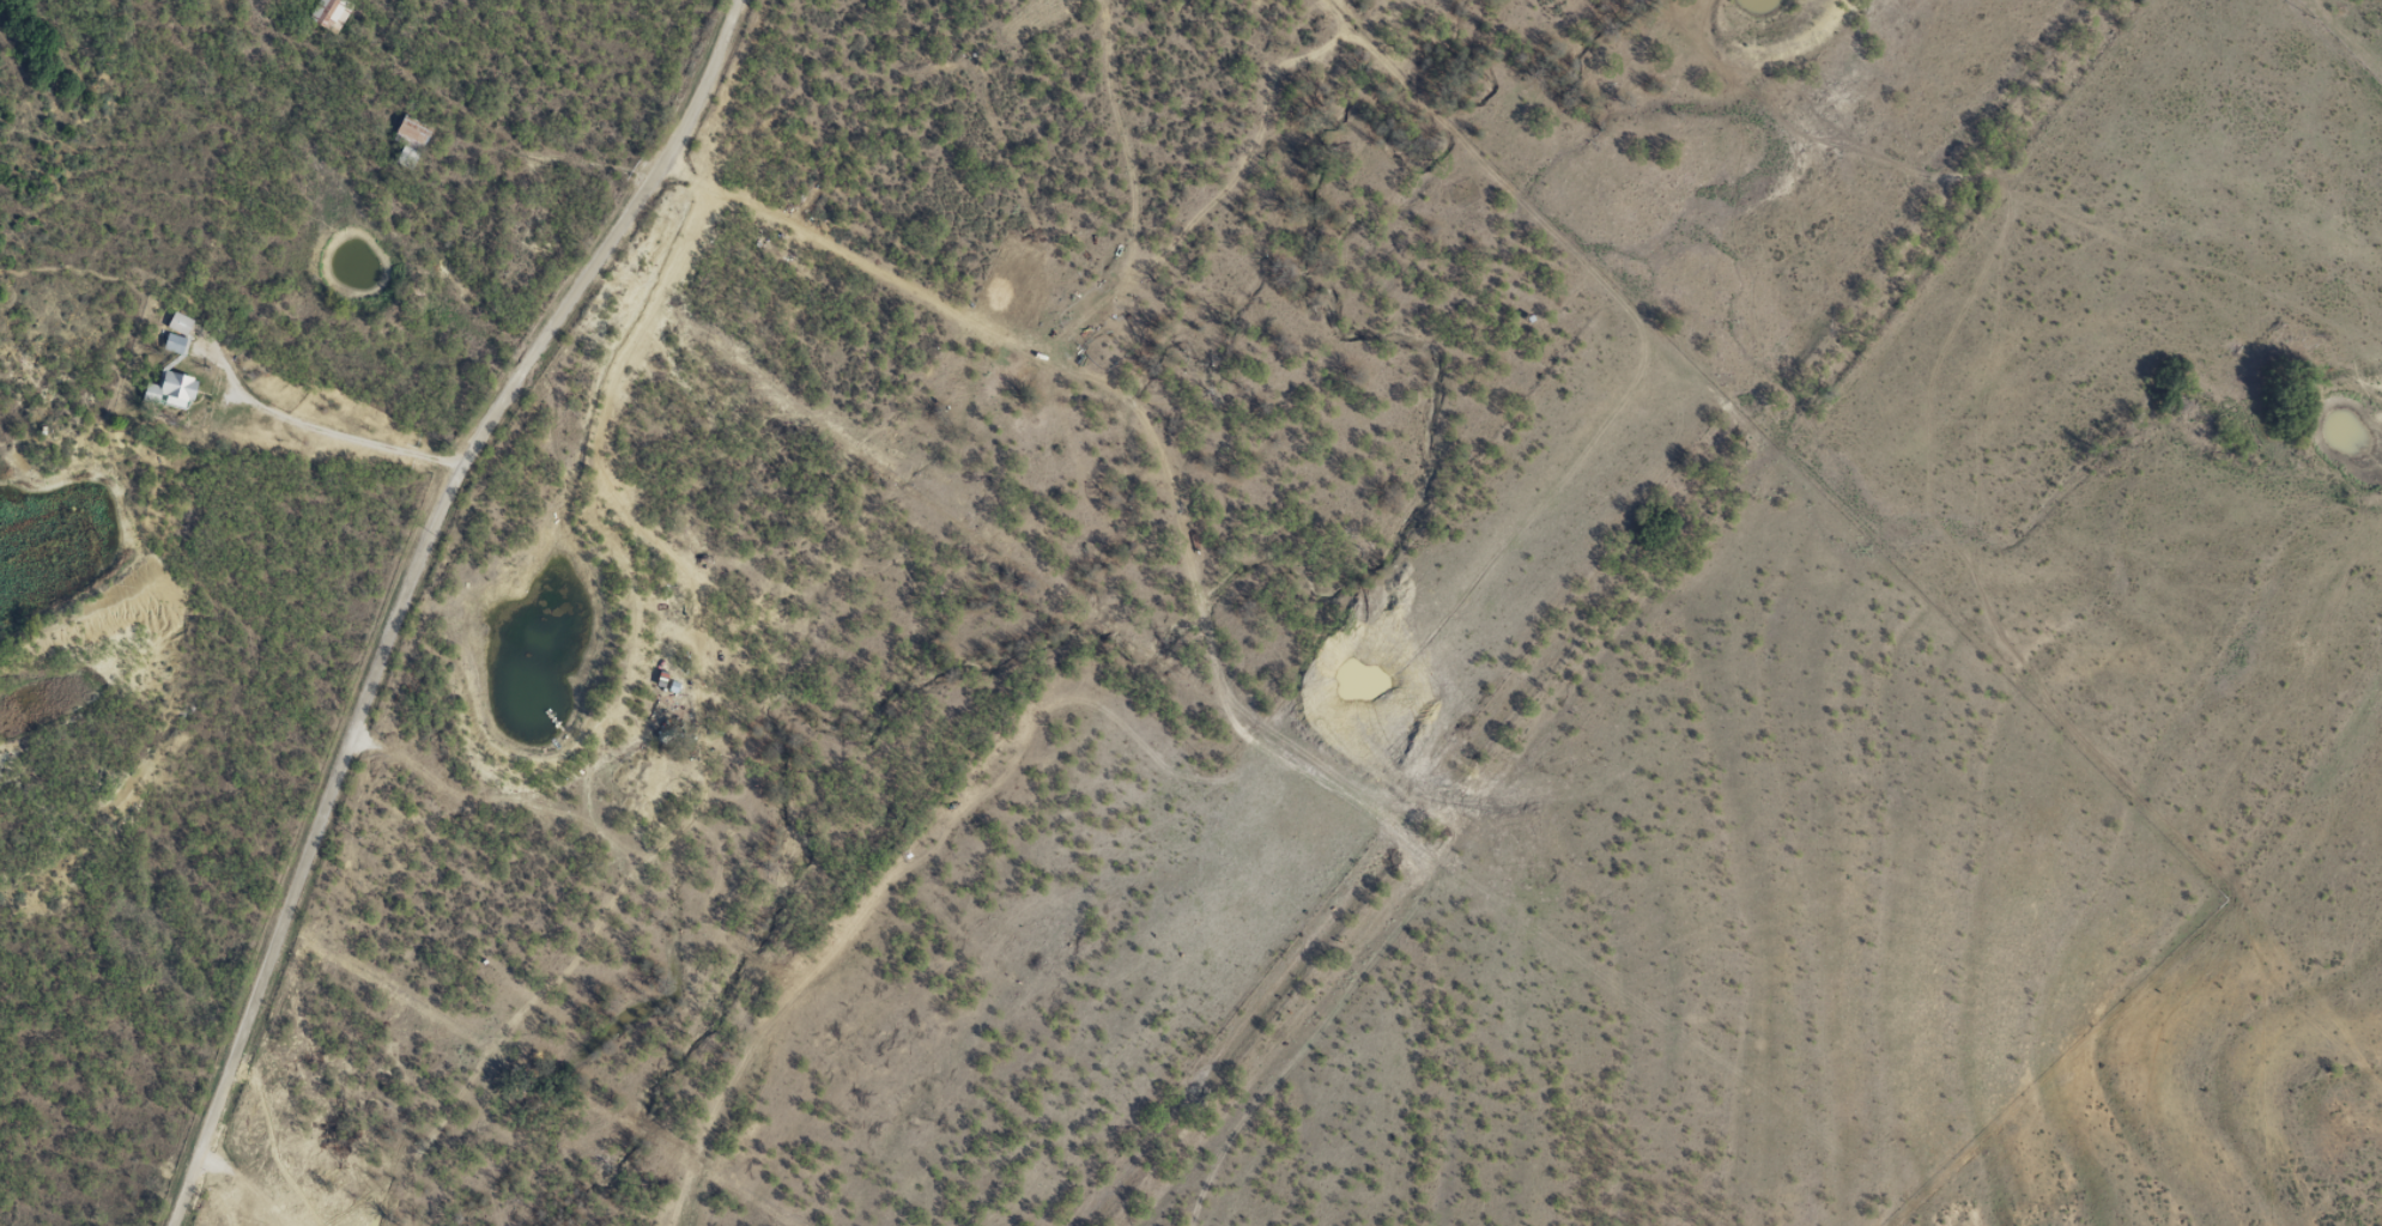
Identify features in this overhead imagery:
building: (328, 12)
building: (410, 140)
building: (178, 323)
building: (172, 387)
road: (343, 576)
railway: (1613, 613)

